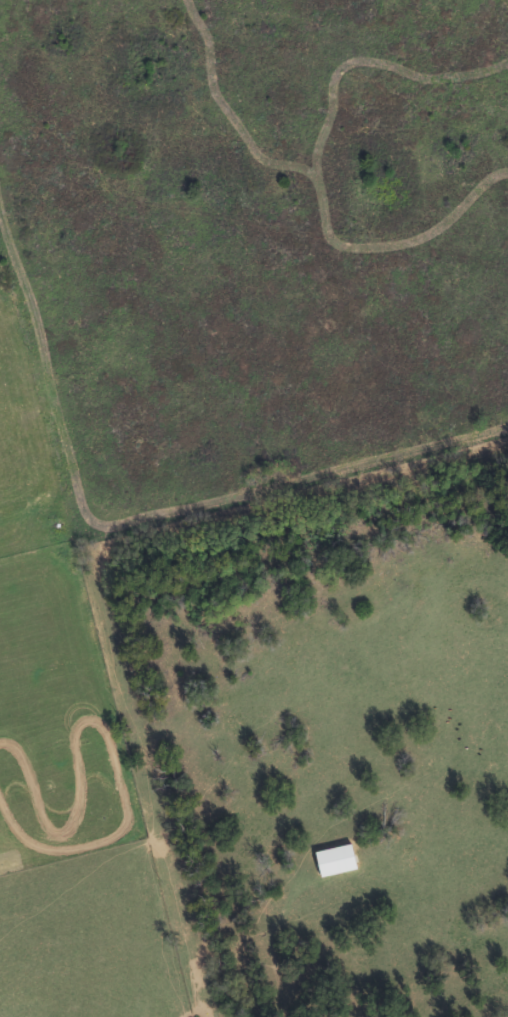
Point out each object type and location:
building: (330, 861)

